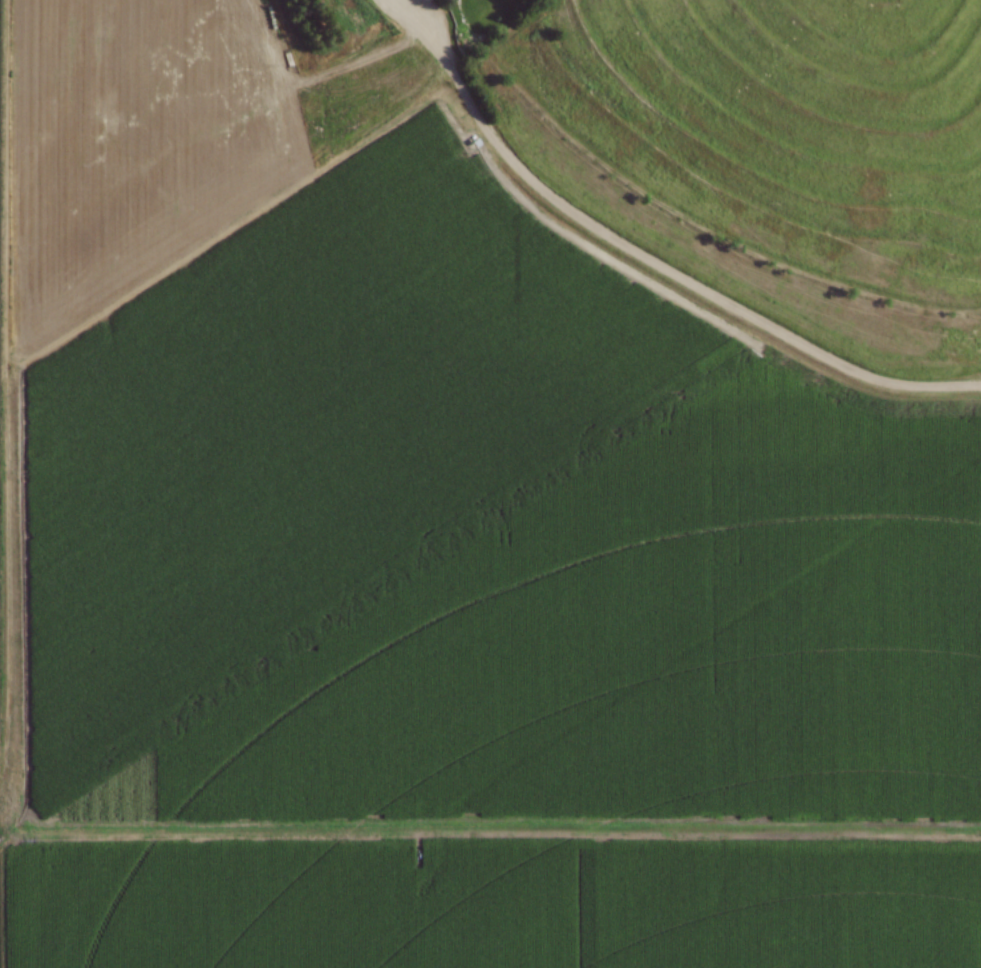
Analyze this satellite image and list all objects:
road: (643, 258)
road: (82, 332)
crop: (429, 487)
road: (489, 843)
crop: (489, 908)

